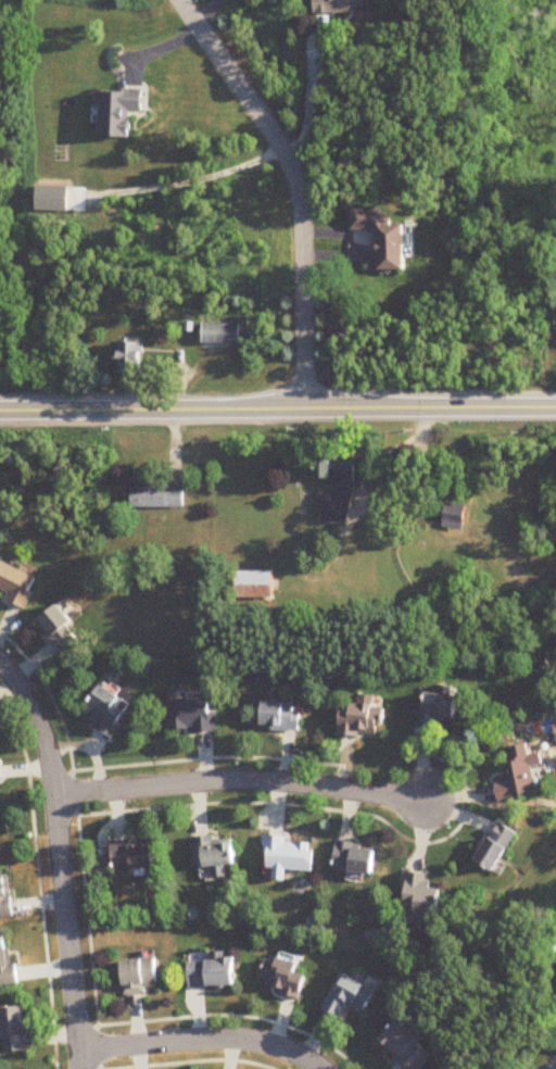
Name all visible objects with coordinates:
building: (337, 7)
road: (206, 11)
road: (308, 98)
building: (113, 111)
road: (180, 184)
road: (296, 188)
building: (48, 198)
building: (375, 237)
building: (217, 334)
building: (126, 356)
road: (277, 410)
building: (332, 491)
building: (154, 498)
building: (448, 516)
building: (251, 584)
building: (14, 587)
building: (56, 630)
building: (433, 710)
building: (103, 712)
building: (190, 715)
building: (276, 716)
building: (358, 718)
building: (527, 778)
road: (242, 780)
building: (0, 781)
building: (503, 846)
building: (215, 855)
building: (286, 856)
building: (135, 857)
building: (357, 858)
road: (60, 860)
building: (424, 896)
building: (5, 898)
building: (7, 964)
building: (214, 973)
building: (140, 977)
building: (288, 978)
building: (351, 996)
building: (14, 1030)
road: (204, 1039)
building: (409, 1047)
road: (554, 1064)

